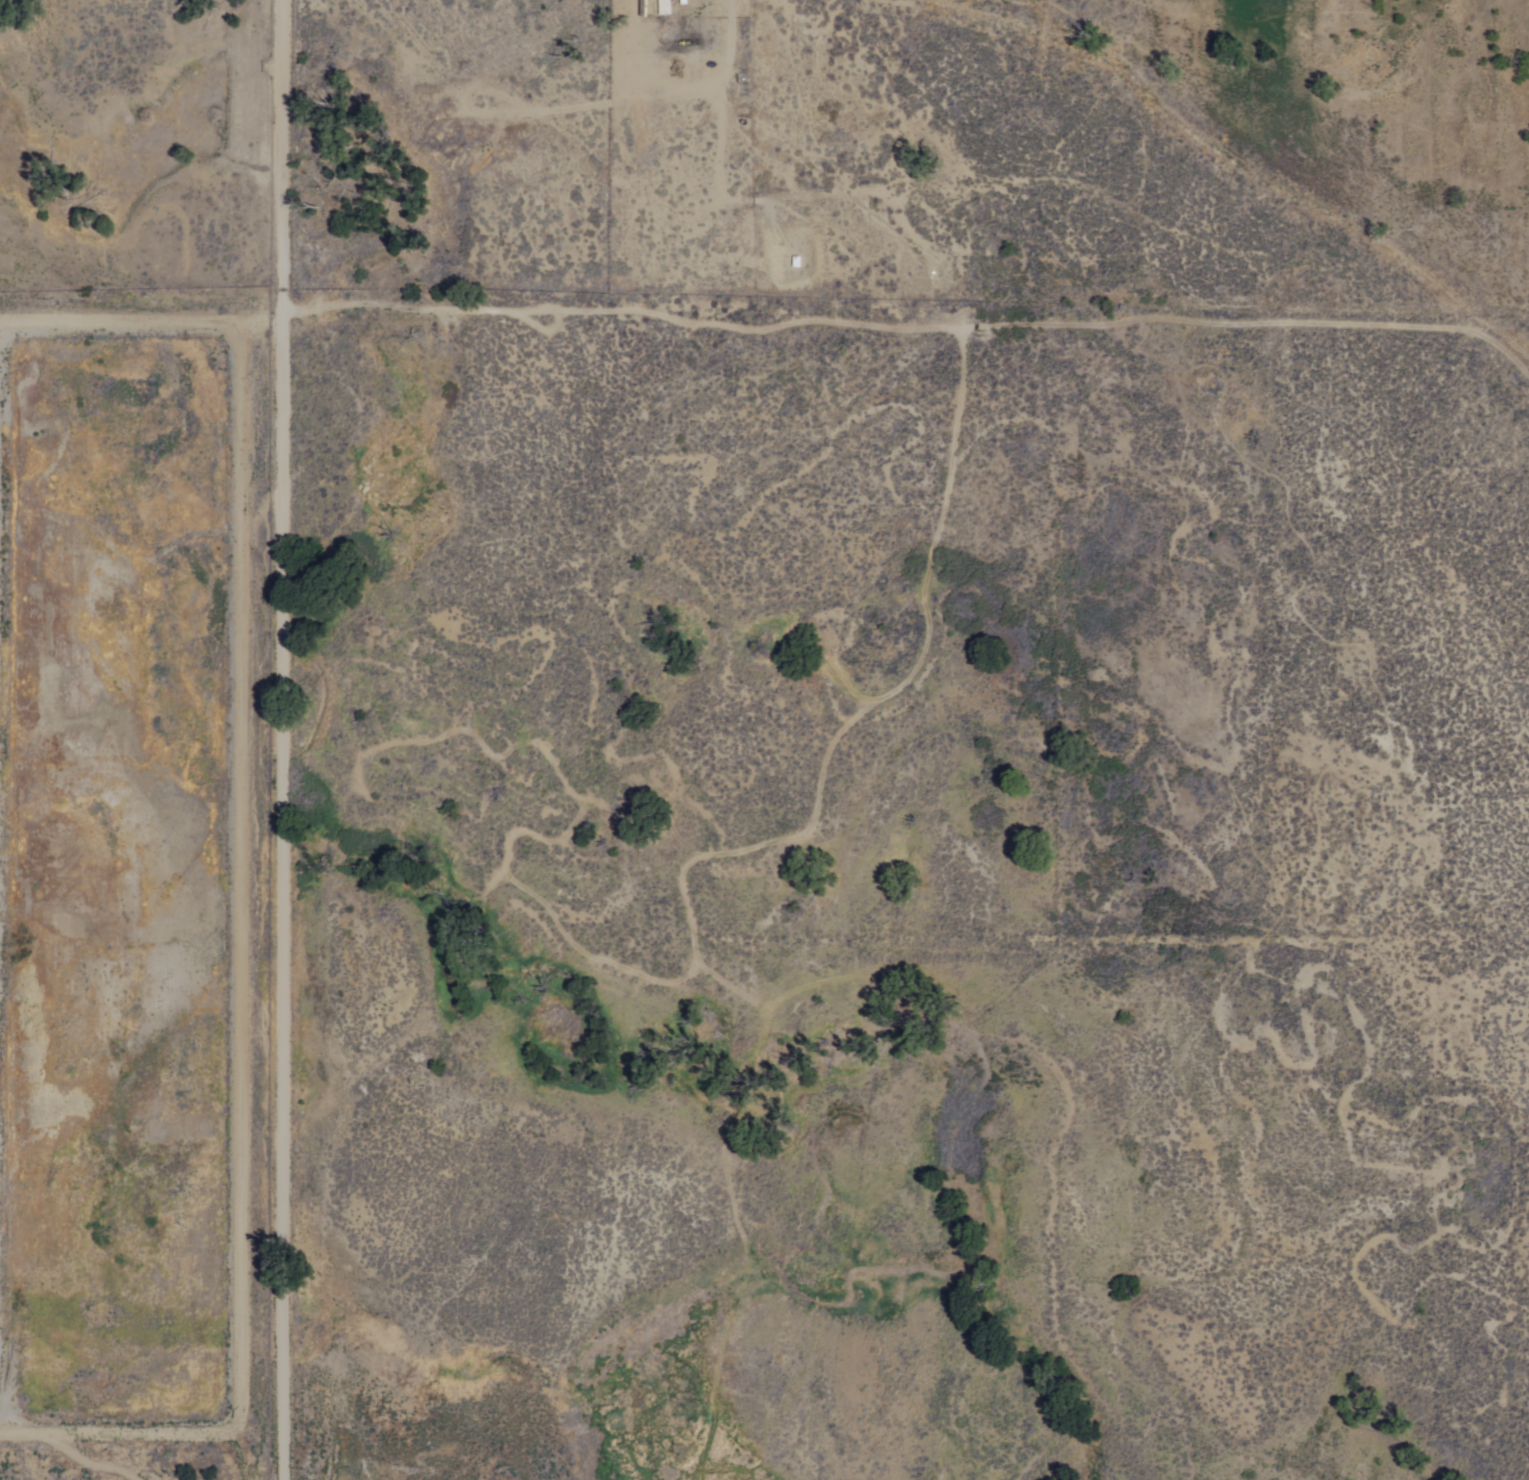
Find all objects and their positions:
building: (651, 6)
building: (663, 7)
road: (915, 326)
road: (288, 739)
wastewater plant: (122, 912)

